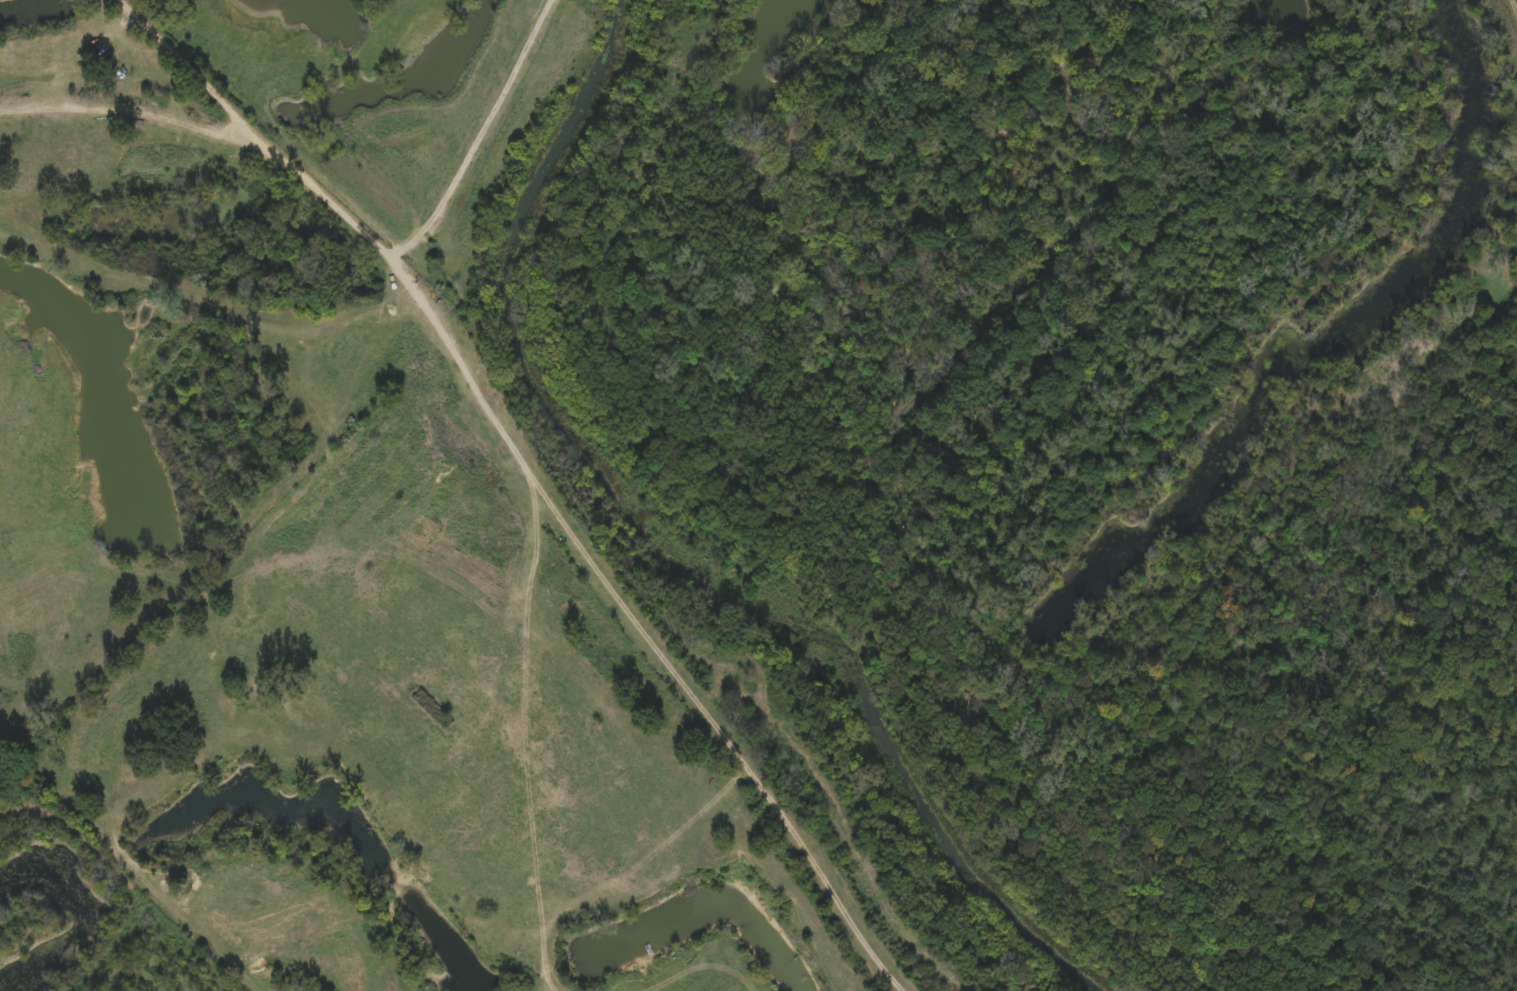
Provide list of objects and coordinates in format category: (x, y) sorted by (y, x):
road: (1511, 12)
road: (175, 56)
road: (476, 147)
road: (479, 453)
road: (118, 945)

